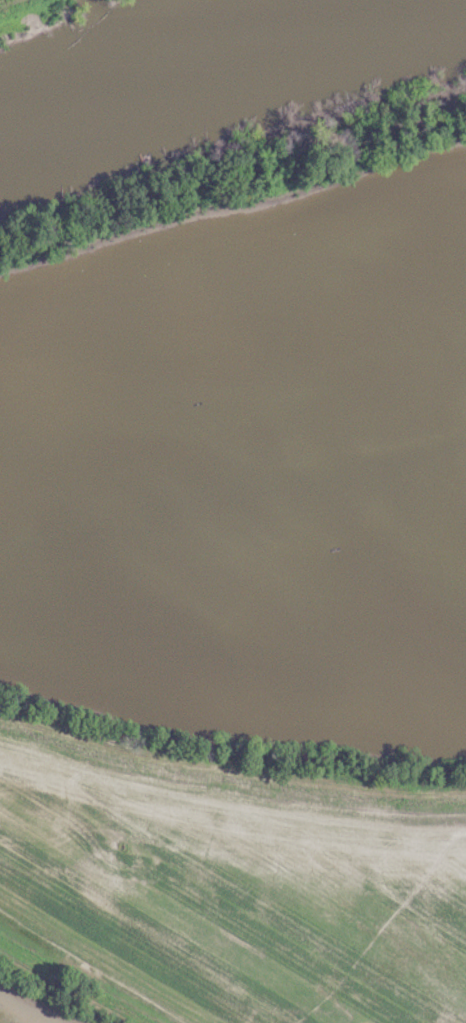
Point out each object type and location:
road: (106, 962)

